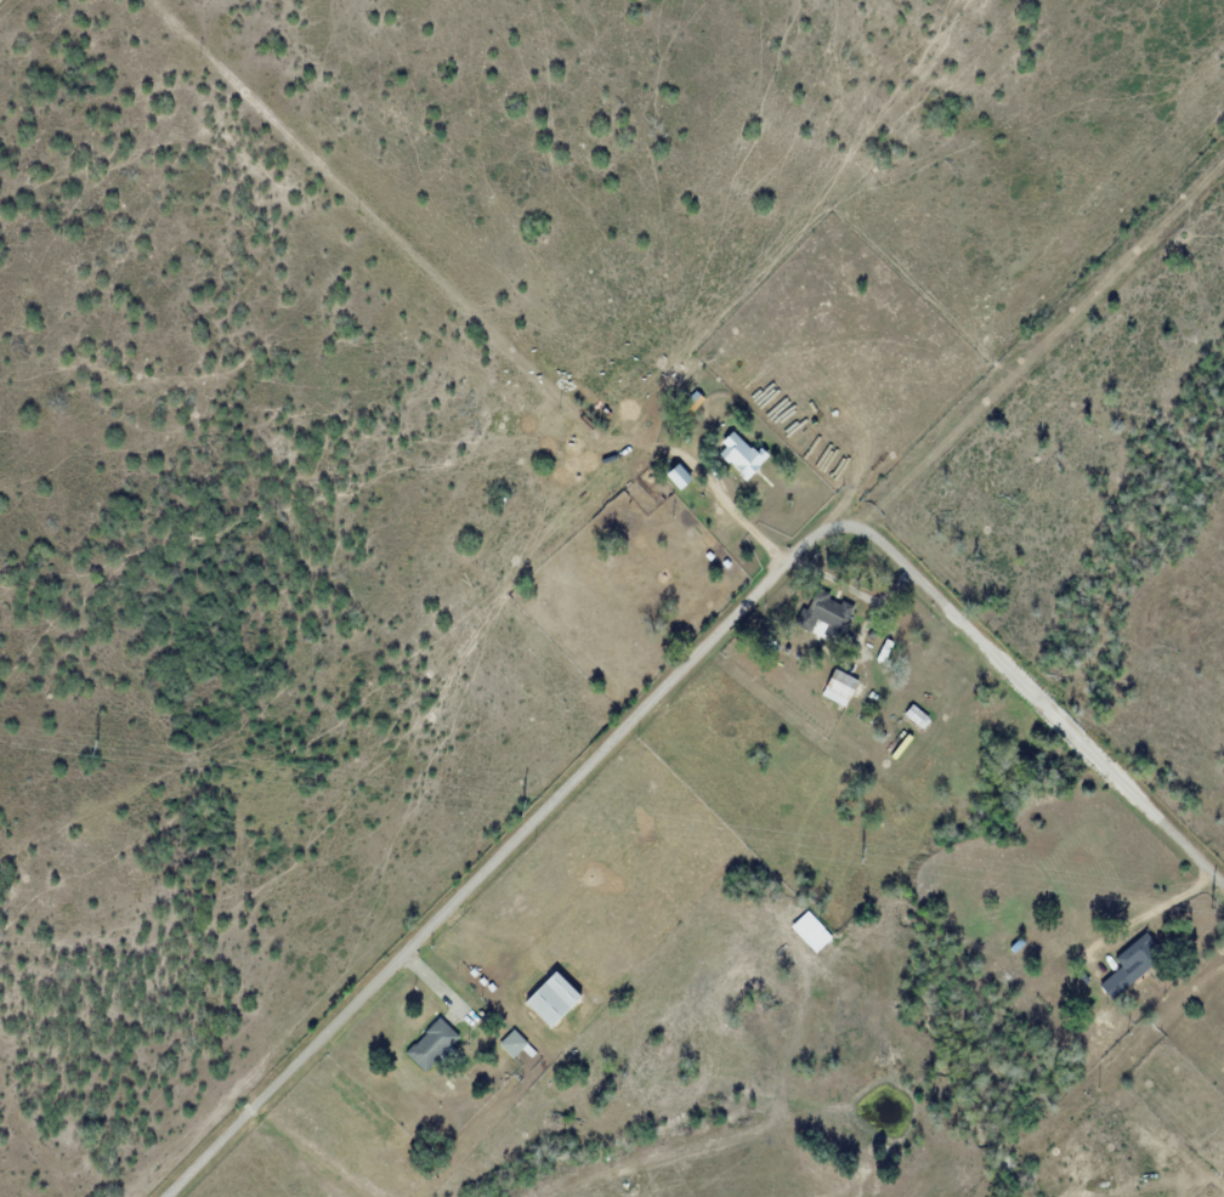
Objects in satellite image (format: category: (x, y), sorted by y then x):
building: (738, 454)
building: (823, 612)
road: (684, 670)
building: (843, 681)
building: (916, 715)
power tower: (93, 747)
power tower: (518, 805)
power tower: (861, 855)
power tower: (1211, 901)
building: (1133, 959)
building: (1115, 983)
building: (551, 999)
building: (511, 1043)
building: (431, 1044)

